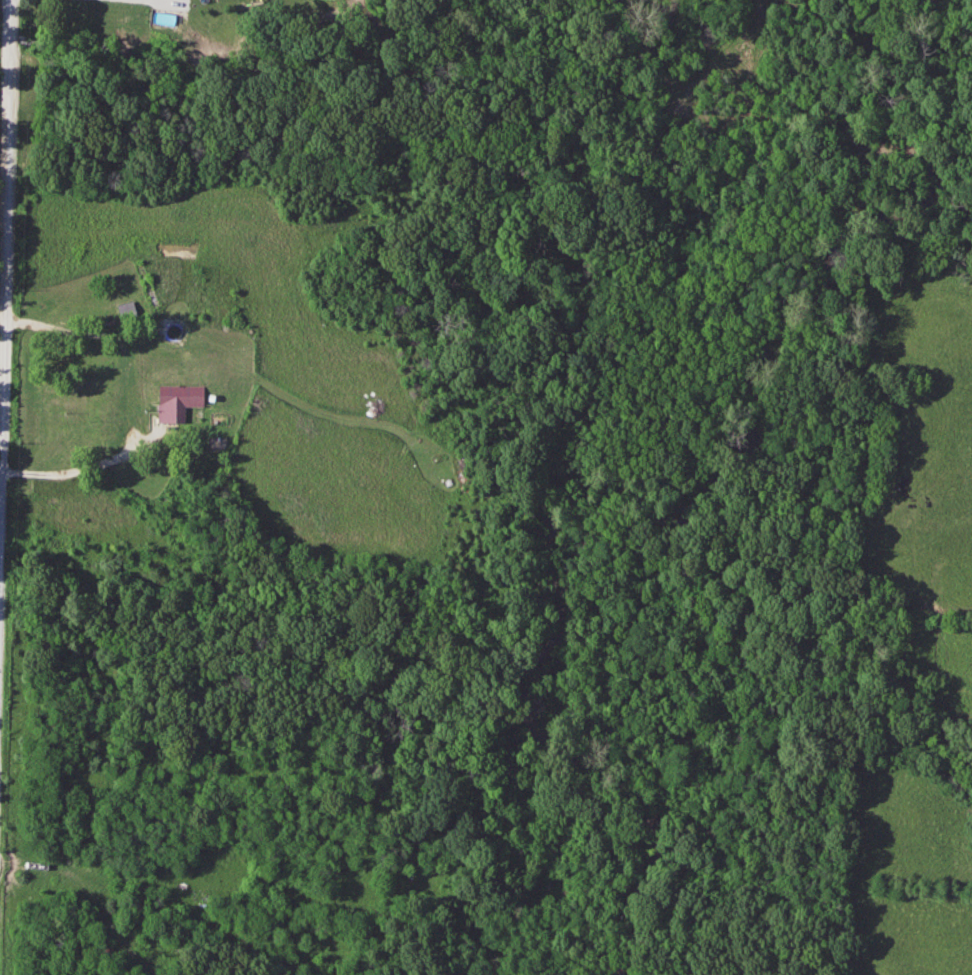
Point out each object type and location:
road: (150, 2)
road: (8, 222)
building: (127, 310)
road: (2, 315)
road: (57, 328)
road: (2, 332)
building: (175, 402)
river: (588, 441)
road: (95, 467)
road: (64, 870)

